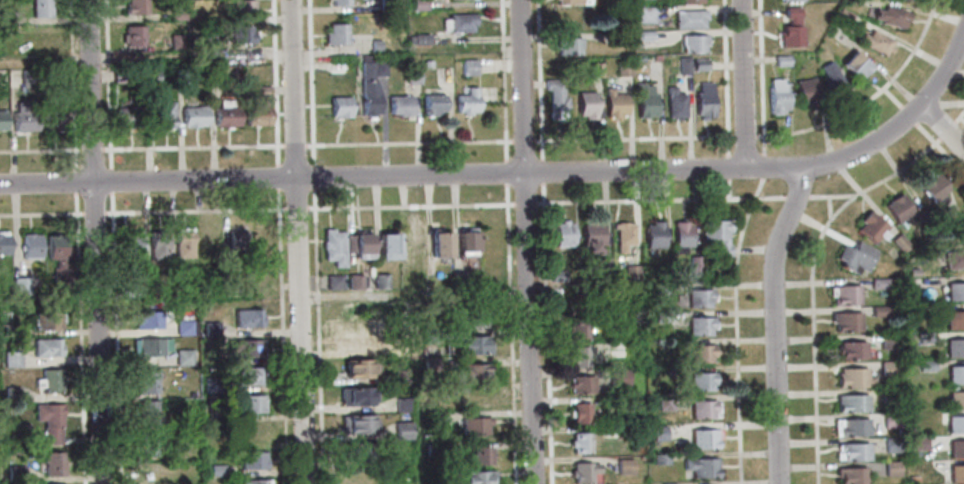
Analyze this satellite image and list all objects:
building: (789, 0)
building: (690, 1)
building: (852, 1)
building: (339, 2)
building: (571, 2)
building: (385, 4)
building: (418, 4)
building: (40, 7)
building: (134, 7)
building: (241, 8)
building: (644, 14)
building: (177, 15)
building: (841, 15)
building: (890, 16)
building: (8, 17)
building: (688, 17)
building: (457, 22)
building: (790, 28)
building: (242, 34)
building: (336, 34)
building: (643, 35)
building: (133, 36)
building: (612, 37)
building: (419, 39)
building: (175, 42)
building: (692, 42)
building: (874, 42)
building: (199, 43)
building: (567, 44)
building: (374, 45)
building: (655, 58)
building: (780, 60)
building: (426, 64)
building: (682, 64)
building: (699, 64)
building: (854, 64)
building: (468, 66)
building: (336, 67)
building: (622, 68)
building: (594, 69)
road: (538, 70)
road: (946, 71)
building: (120, 74)
building: (213, 74)
building: (410, 74)
building: (180, 75)
building: (150, 76)
road: (762, 76)
building: (28, 77)
building: (830, 79)
road: (501, 81)
road: (310, 82)
building: (370, 82)
road: (274, 83)
road: (743, 83)
road: (726, 84)
road: (71, 85)
road: (106, 85)
building: (804, 91)
building: (775, 96)
building: (555, 99)
building: (643, 99)
building: (703, 100)
building: (466, 101)
building: (674, 102)
building: (613, 103)
building: (432, 104)
building: (585, 104)
building: (399, 105)
building: (339, 106)
building: (163, 114)
building: (256, 114)
road: (958, 115)
building: (128, 116)
building: (192, 116)
building: (225, 116)
building: (23, 117)
building: (51, 117)
road: (960, 119)
building: (2, 120)
road: (942, 127)
road: (946, 130)
road: (764, 134)
road: (522, 141)
road: (407, 142)
road: (293, 145)
road: (192, 147)
road: (936, 147)
road: (91, 149)
road: (40, 150)
road: (764, 160)
road: (504, 172)
road: (469, 173)
road: (763, 173)
road: (312, 176)
road: (74, 177)
road: (277, 177)
road: (541, 178)
road: (110, 180)
road: (74, 187)
building: (932, 187)
road: (798, 195)
road: (834, 195)
road: (660, 199)
road: (524, 203)
road: (409, 205)
building: (896, 208)
road: (295, 209)
road: (193, 210)
road: (41, 213)
road: (93, 213)
building: (923, 217)
building: (869, 226)
building: (954, 228)
building: (564, 233)
building: (683, 233)
building: (655, 234)
building: (719, 234)
building: (624, 235)
building: (594, 237)
road: (94, 241)
building: (264, 242)
road: (297, 242)
building: (348, 242)
building: (465, 242)
road: (525, 242)
building: (898, 242)
building: (182, 243)
building: (237, 243)
building: (412, 243)
building: (439, 243)
building: (3, 244)
building: (157, 244)
building: (360, 244)
building: (386, 244)
building: (30, 245)
building: (129, 245)
building: (333, 246)
building: (56, 256)
building: (854, 256)
building: (953, 258)
building: (696, 264)
building: (604, 265)
building: (912, 272)
building: (633, 274)
building: (560, 275)
building: (380, 280)
building: (355, 281)
road: (812, 281)
building: (332, 282)
building: (22, 284)
building: (878, 284)
building: (660, 287)
building: (127, 289)
building: (227, 289)
building: (608, 292)
building: (954, 292)
road: (413, 294)
building: (845, 294)
building: (701, 297)
building: (914, 310)
building: (878, 311)
building: (472, 315)
building: (661, 317)
building: (149, 318)
building: (246, 318)
building: (46, 320)
building: (954, 320)
road: (773, 321)
building: (845, 321)
building: (702, 325)
building: (185, 327)
building: (210, 328)
road: (736, 328)
building: (11, 329)
building: (578, 329)
road: (509, 333)
road: (545, 333)
road: (317, 335)
building: (427, 335)
road: (280, 336)
road: (78, 337)
road: (114, 337)
building: (923, 337)
building: (351, 340)
building: (887, 341)
building: (466, 344)
building: (149, 346)
building: (45, 347)
building: (246, 347)
building: (953, 347)
building: (616, 349)
building: (851, 350)
building: (702, 353)
building: (580, 356)
building: (182, 357)
building: (10, 358)
building: (428, 363)
building: (925, 365)
building: (355, 368)
building: (887, 368)
building: (473, 372)
building: (955, 374)
building: (248, 375)
building: (620, 376)
building: (400, 377)
building: (852, 377)
building: (47, 380)
building: (145, 380)
building: (703, 380)
building: (581, 383)
building: (211, 384)
road: (414, 389)
building: (11, 394)
building: (888, 395)
building: (354, 396)
building: (474, 399)
building: (955, 400)
building: (246, 401)
building: (850, 402)
building: (663, 403)
building: (401, 405)
building: (704, 408)
building: (146, 411)
building: (581, 412)
building: (228, 415)
building: (436, 417)
building: (889, 419)
building: (48, 420)
building: (354, 423)
building: (954, 424)
building: (473, 425)
building: (849, 427)
building: (401, 430)
building: (907, 431)
building: (614, 432)
building: (657, 433)
building: (706, 438)
building: (581, 442)
building: (146, 443)
building: (917, 443)
building: (890, 444)
building: (431, 447)
building: (956, 449)
building: (355, 451)
building: (852, 451)
building: (474, 454)
building: (251, 459)
building: (659, 459)
building: (52, 463)
building: (626, 466)
building: (702, 466)
building: (891, 468)
building: (214, 469)
building: (150, 472)
building: (586, 472)
building: (15, 473)
building: (956, 474)
building: (850, 476)
building: (476, 477)
building: (911, 479)
building: (253, 481)
building: (54, 483)

